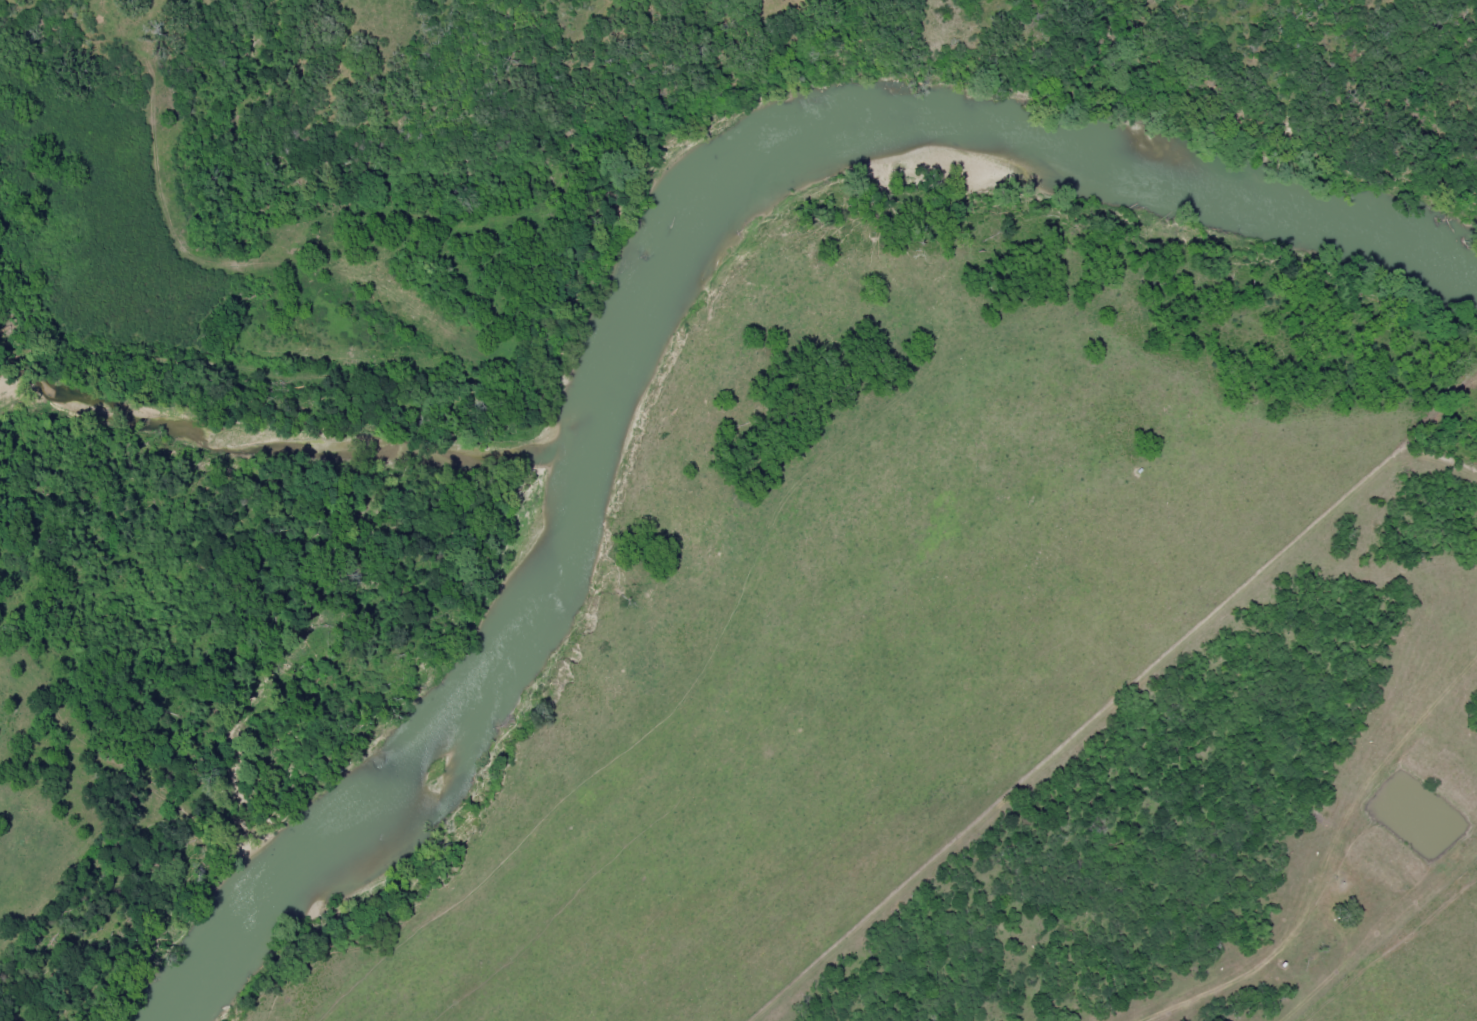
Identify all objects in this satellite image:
river: (621, 300)
road: (744, 595)

